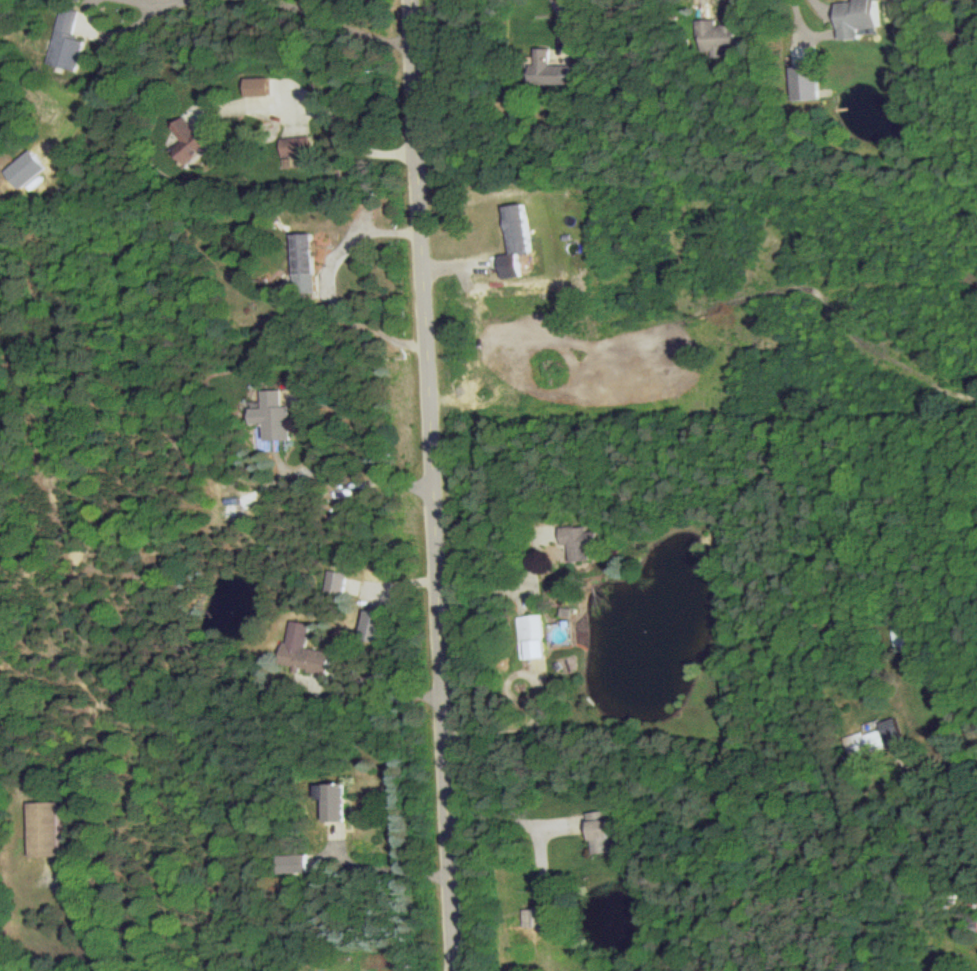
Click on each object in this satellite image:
road: (142, 3)
road: (158, 3)
road: (561, 16)
building: (854, 19)
road: (343, 24)
road: (803, 25)
road: (104, 26)
road: (961, 34)
building: (716, 38)
building: (65, 43)
building: (549, 71)
building: (803, 83)
building: (259, 87)
road: (324, 117)
building: (188, 141)
building: (296, 149)
building: (24, 170)
building: (515, 240)
building: (303, 263)
road: (330, 288)
building: (273, 417)
road: (334, 469)
road: (432, 485)
building: (578, 543)
building: (335, 583)
road: (508, 589)
building: (371, 627)
building: (531, 636)
building: (302, 651)
road: (374, 693)
building: (874, 740)
road: (960, 759)
building: (332, 802)
road: (508, 821)
building: (45, 830)
building: (600, 833)
building: (293, 865)
road: (389, 869)
building: (531, 918)
road: (83, 926)

